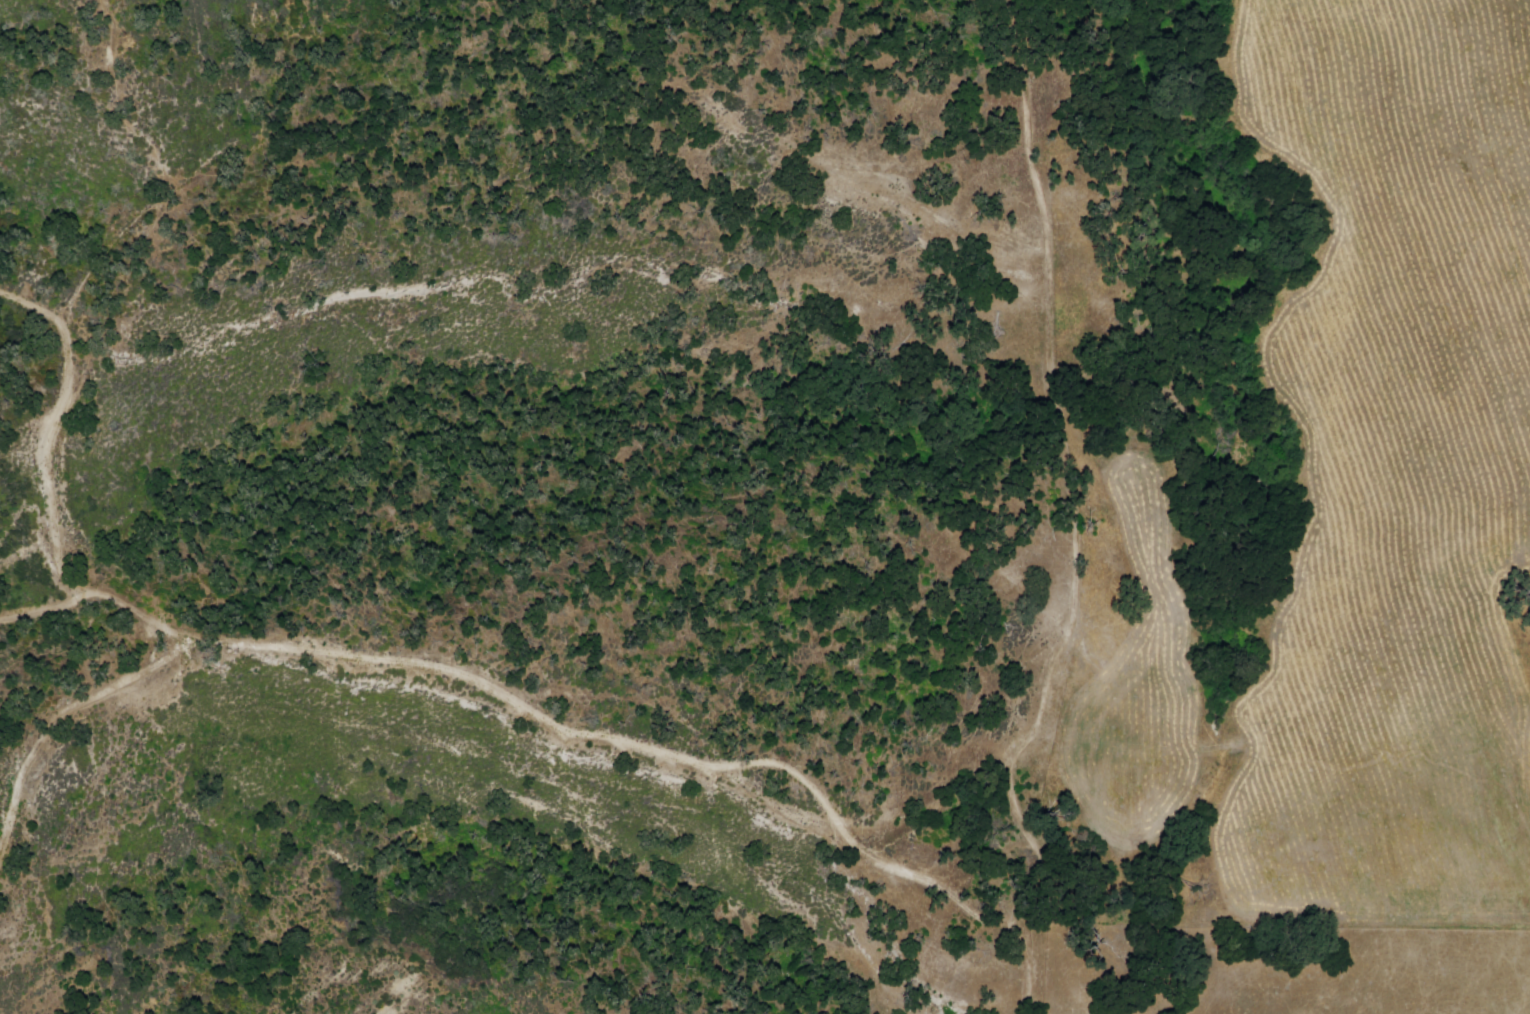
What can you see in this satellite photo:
road: (45, 610)
road: (450, 675)

